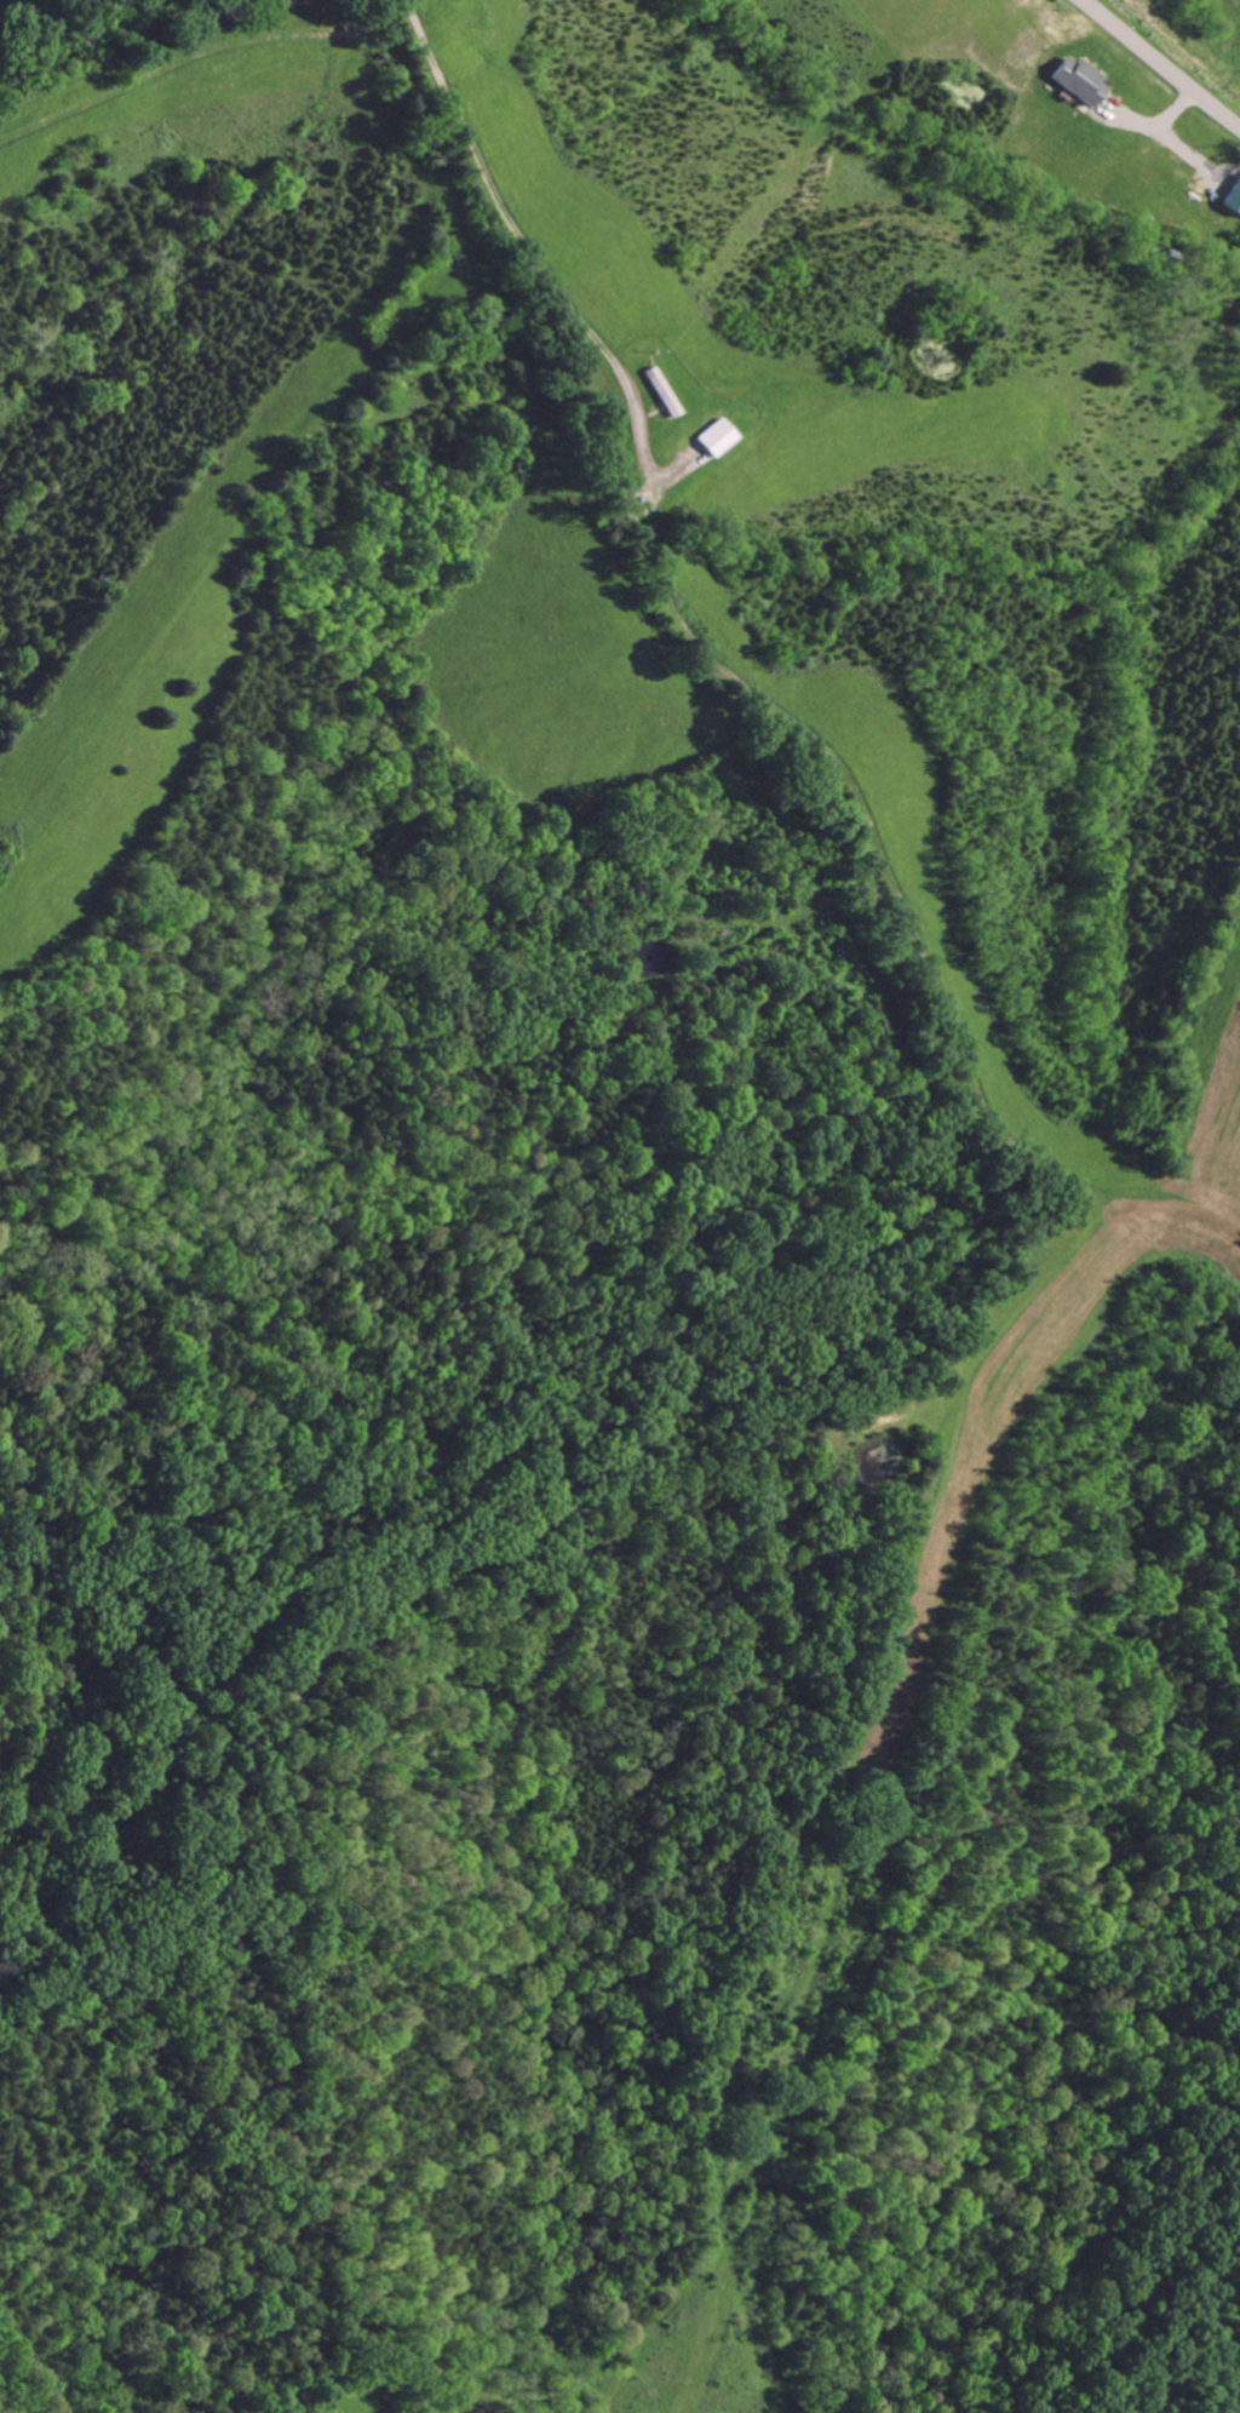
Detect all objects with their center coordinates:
road: (1160, 64)
building: (1078, 82)
building: (1233, 199)

